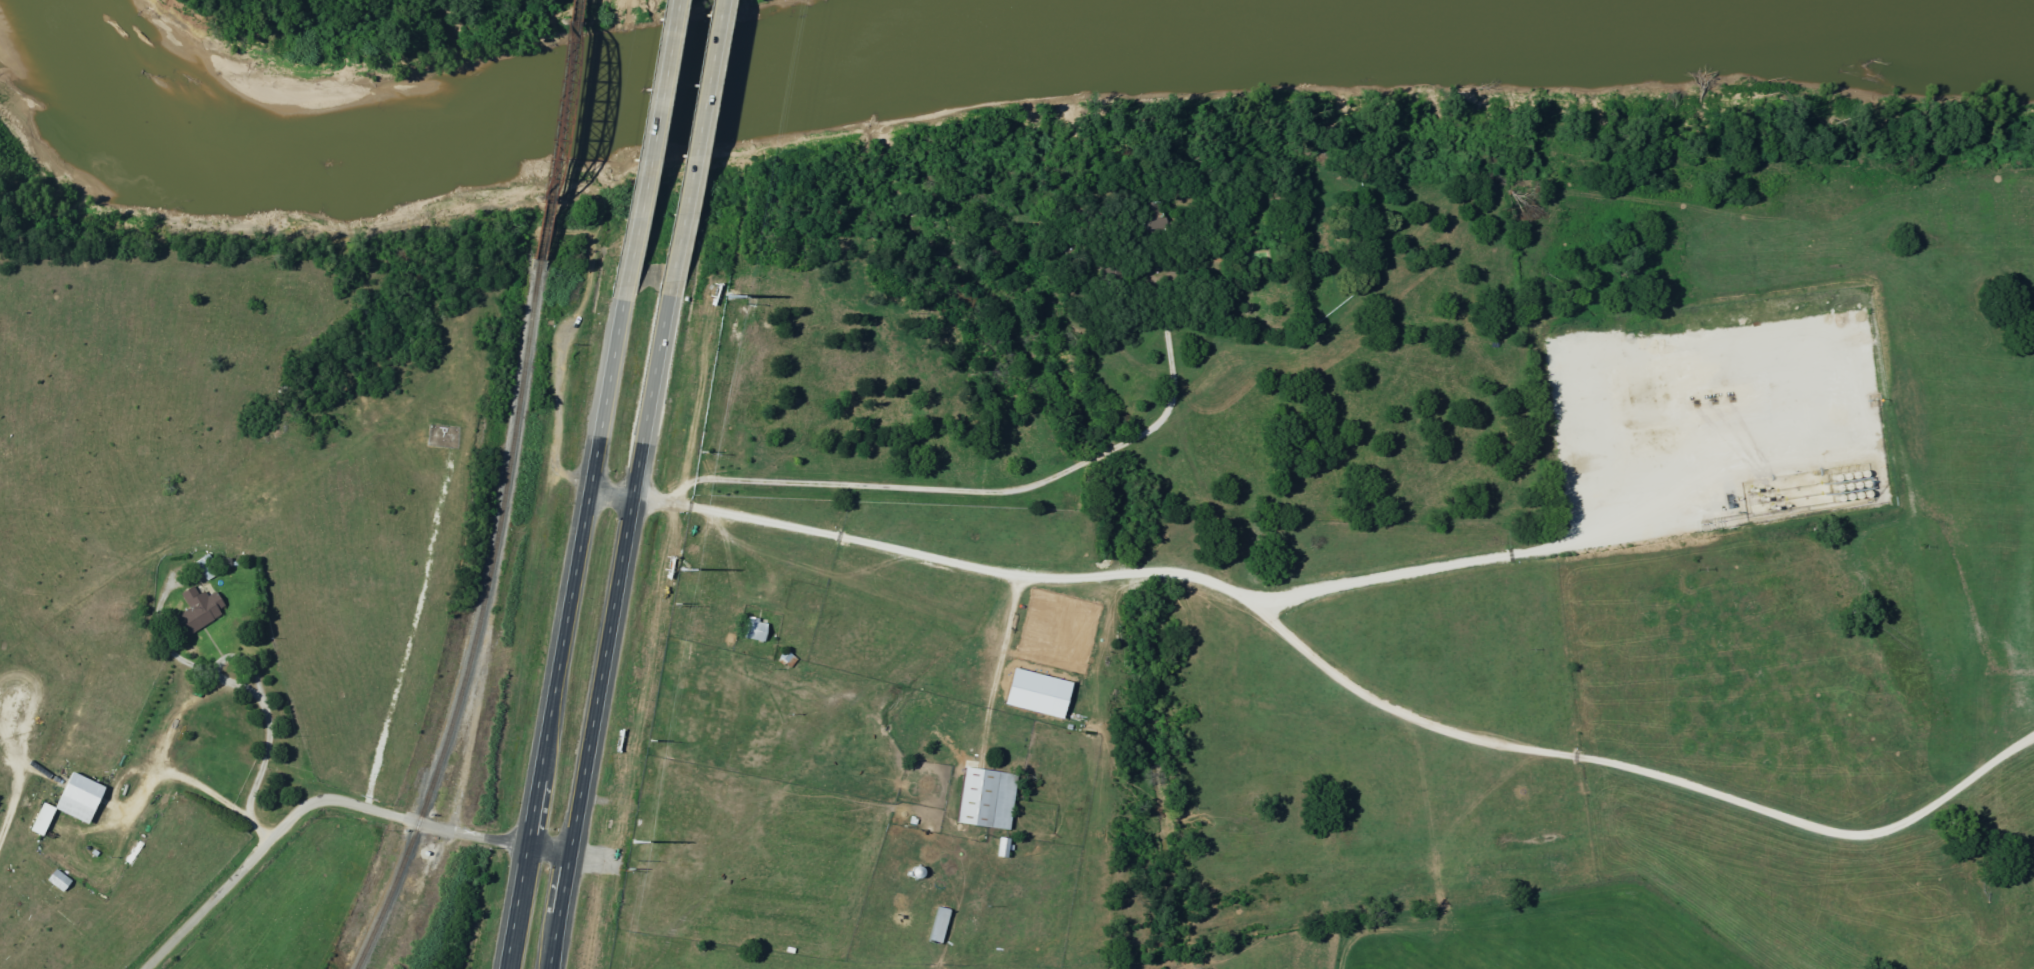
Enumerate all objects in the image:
river: (1006, 51)
railway: (555, 129)
road: (693, 140)
road: (647, 144)
road: (613, 495)
building: (202, 609)
railway: (476, 622)
road: (611, 625)
road: (565, 629)
building: (759, 629)
road: (1340, 677)
road: (257, 768)
building: (84, 797)
building: (991, 798)
road: (322, 799)
building: (1007, 848)
building: (62, 881)

